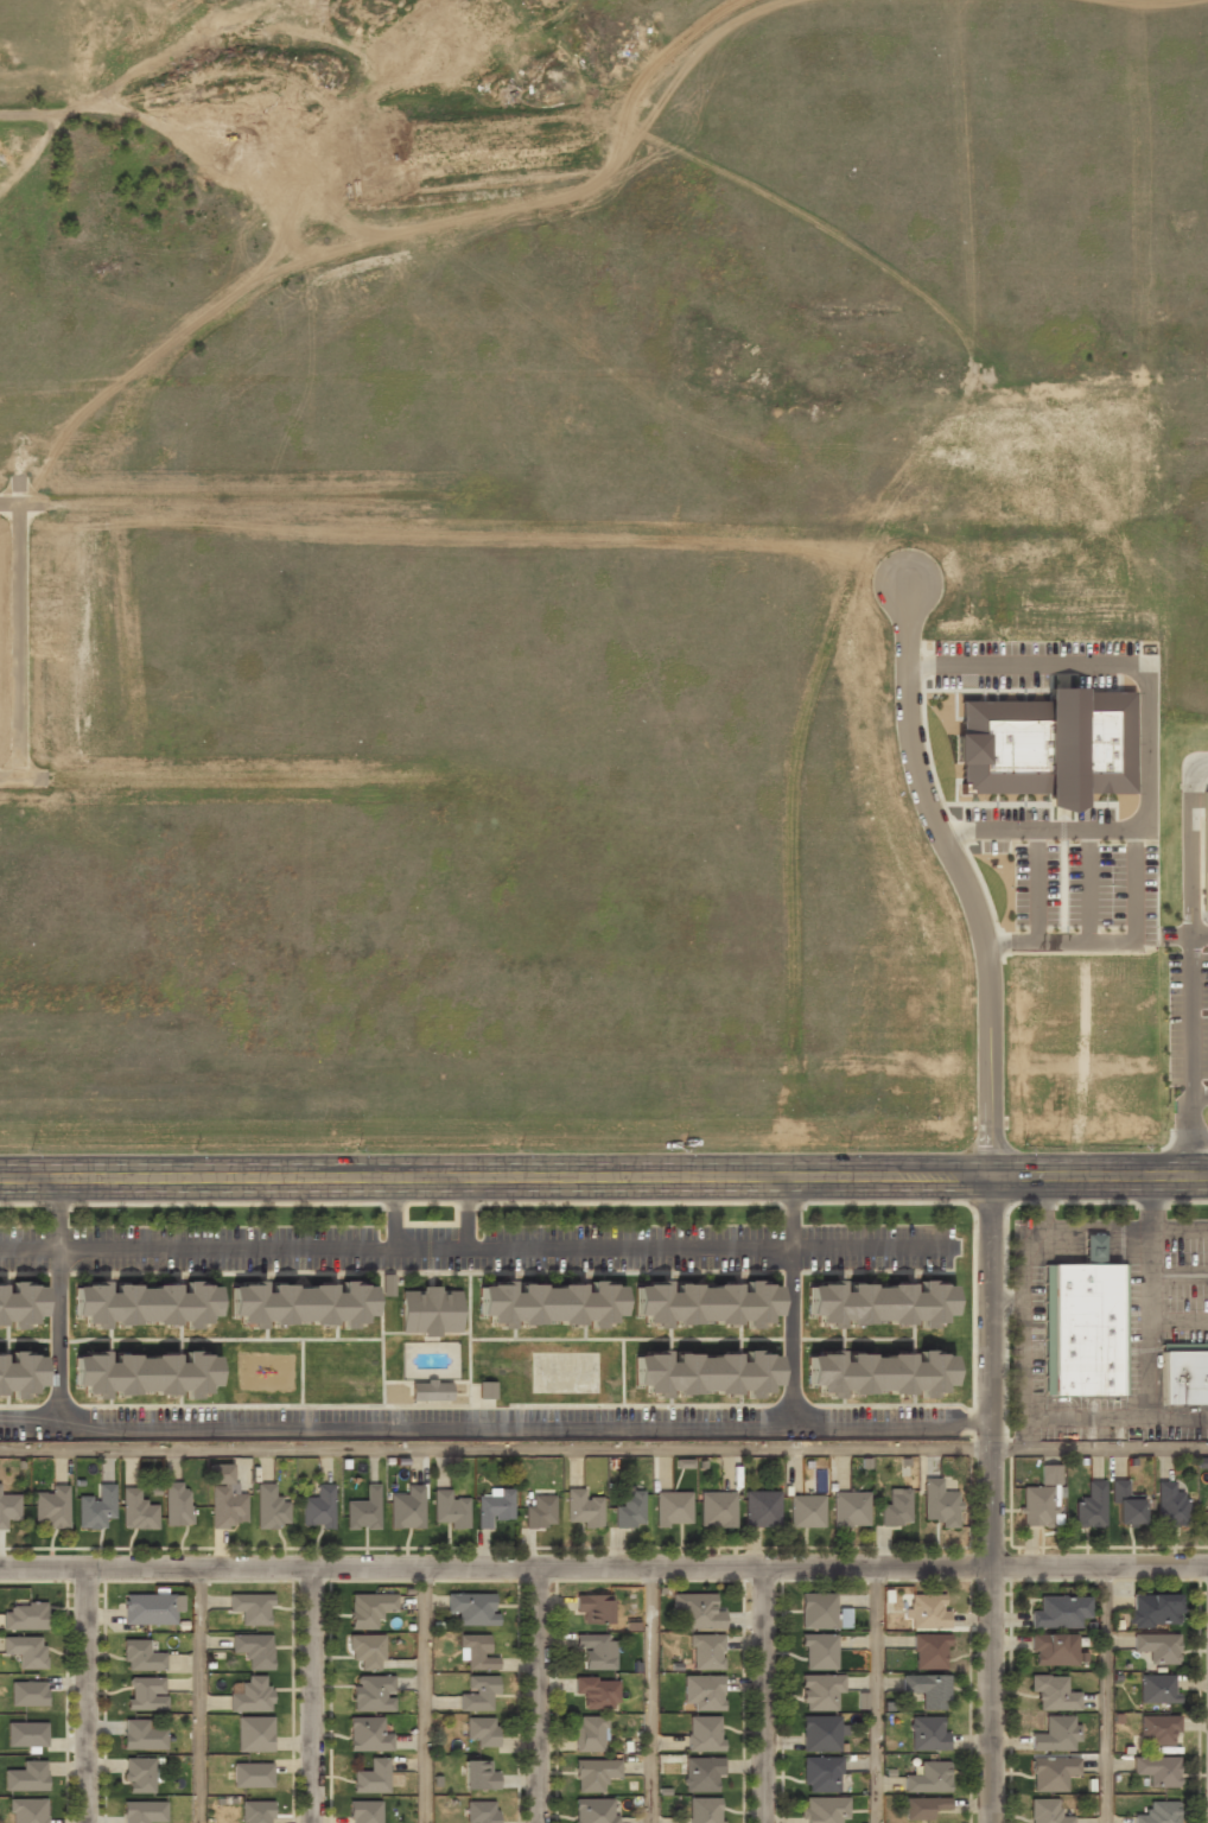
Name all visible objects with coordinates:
building: (1048, 745)
building: (1204, 849)
road: (1199, 934)
road: (1190, 965)
road: (1199, 1097)
road: (604, 1177)
road: (996, 1192)
road: (393, 1213)
road: (464, 1213)
road: (478, 1247)
building: (1093, 1249)
building: (386, 1284)
road: (58, 1302)
road: (790, 1302)
building: (20, 1303)
building: (299, 1303)
building: (547, 1303)
building: (702, 1303)
building: (877, 1303)
building: (142, 1304)
building: (430, 1310)
building: (1083, 1329)
building: (142, 1373)
building: (702, 1373)
building: (876, 1373)
building: (19, 1374)
building: (1183, 1377)
building: (428, 1391)
building: (485, 1391)
road: (497, 1428)
road: (603, 1449)
building: (1048, 1475)
building: (224, 1501)
building: (939, 1504)
building: (177, 1505)
building: (1124, 1505)
building: (1089, 1506)
building: (1169, 1506)
building: (317, 1507)
building: (406, 1507)
building: (1037, 1507)
building: (8, 1508)
building: (51, 1508)
building: (95, 1508)
building: (271, 1508)
building: (494, 1508)
building: (583, 1508)
building: (672, 1508)
building: (761, 1508)
building: (895, 1508)
building: (362, 1510)
building: (450, 1510)
building: (629, 1510)
building: (717, 1510)
building: (850, 1510)
building: (136, 1512)
building: (805, 1512)
building: (1207, 1512)
building: (539, 1513)
road: (604, 1570)
building: (250, 1608)
building: (591, 1608)
building: (472, 1609)
building: (148, 1611)
building: (369, 1611)
building: (816, 1611)
building: (1153, 1611)
building: (697, 1612)
building: (928, 1612)
building: (1058, 1613)
building: (24, 1616)
building: (1156, 1649)
building: (252, 1650)
building: (367, 1651)
building: (596, 1651)
building: (929, 1651)
building: (1051, 1651)
building: (26, 1652)
building: (475, 1652)
building: (706, 1652)
building: (818, 1652)
building: (140, 1656)
building: (927, 1690)
building: (1156, 1690)
building: (818, 1691)
building: (146, 1692)
building: (597, 1692)
building: (701, 1692)
building: (1053, 1692)
building: (371, 1694)
building: (478, 1694)
building: (27, 1695)
building: (249, 1695)
road: (89, 1696)
road: (198, 1696)
road: (317, 1696)
road: (425, 1696)
road: (542, 1696)
road: (649, 1696)
road: (773, 1696)
road: (877, 1696)
road: (1111, 1696)
building: (1157, 1730)
building: (479, 1732)
building: (589, 1733)
building: (928, 1733)
building: (254, 1734)
building: (367, 1734)
building: (704, 1734)
building: (819, 1734)
building: (25, 1735)
building: (142, 1735)
building: (1055, 1735)
building: (1156, 1771)
building: (1051, 1773)
building: (593, 1774)
building: (702, 1774)
building: (140, 1776)
building: (252, 1776)
building: (477, 1776)
building: (820, 1776)
building: (371, 1777)
building: (25, 1778)
building: (928, 1778)
building: (922, 1808)
building: (704, 1810)
building: (824, 1810)
building: (27, 1811)
building: (593, 1811)
building: (1045, 1811)
building: (144, 1812)
building: (255, 1812)
building: (363, 1812)
building: (481, 1812)
building: (1158, 1812)

